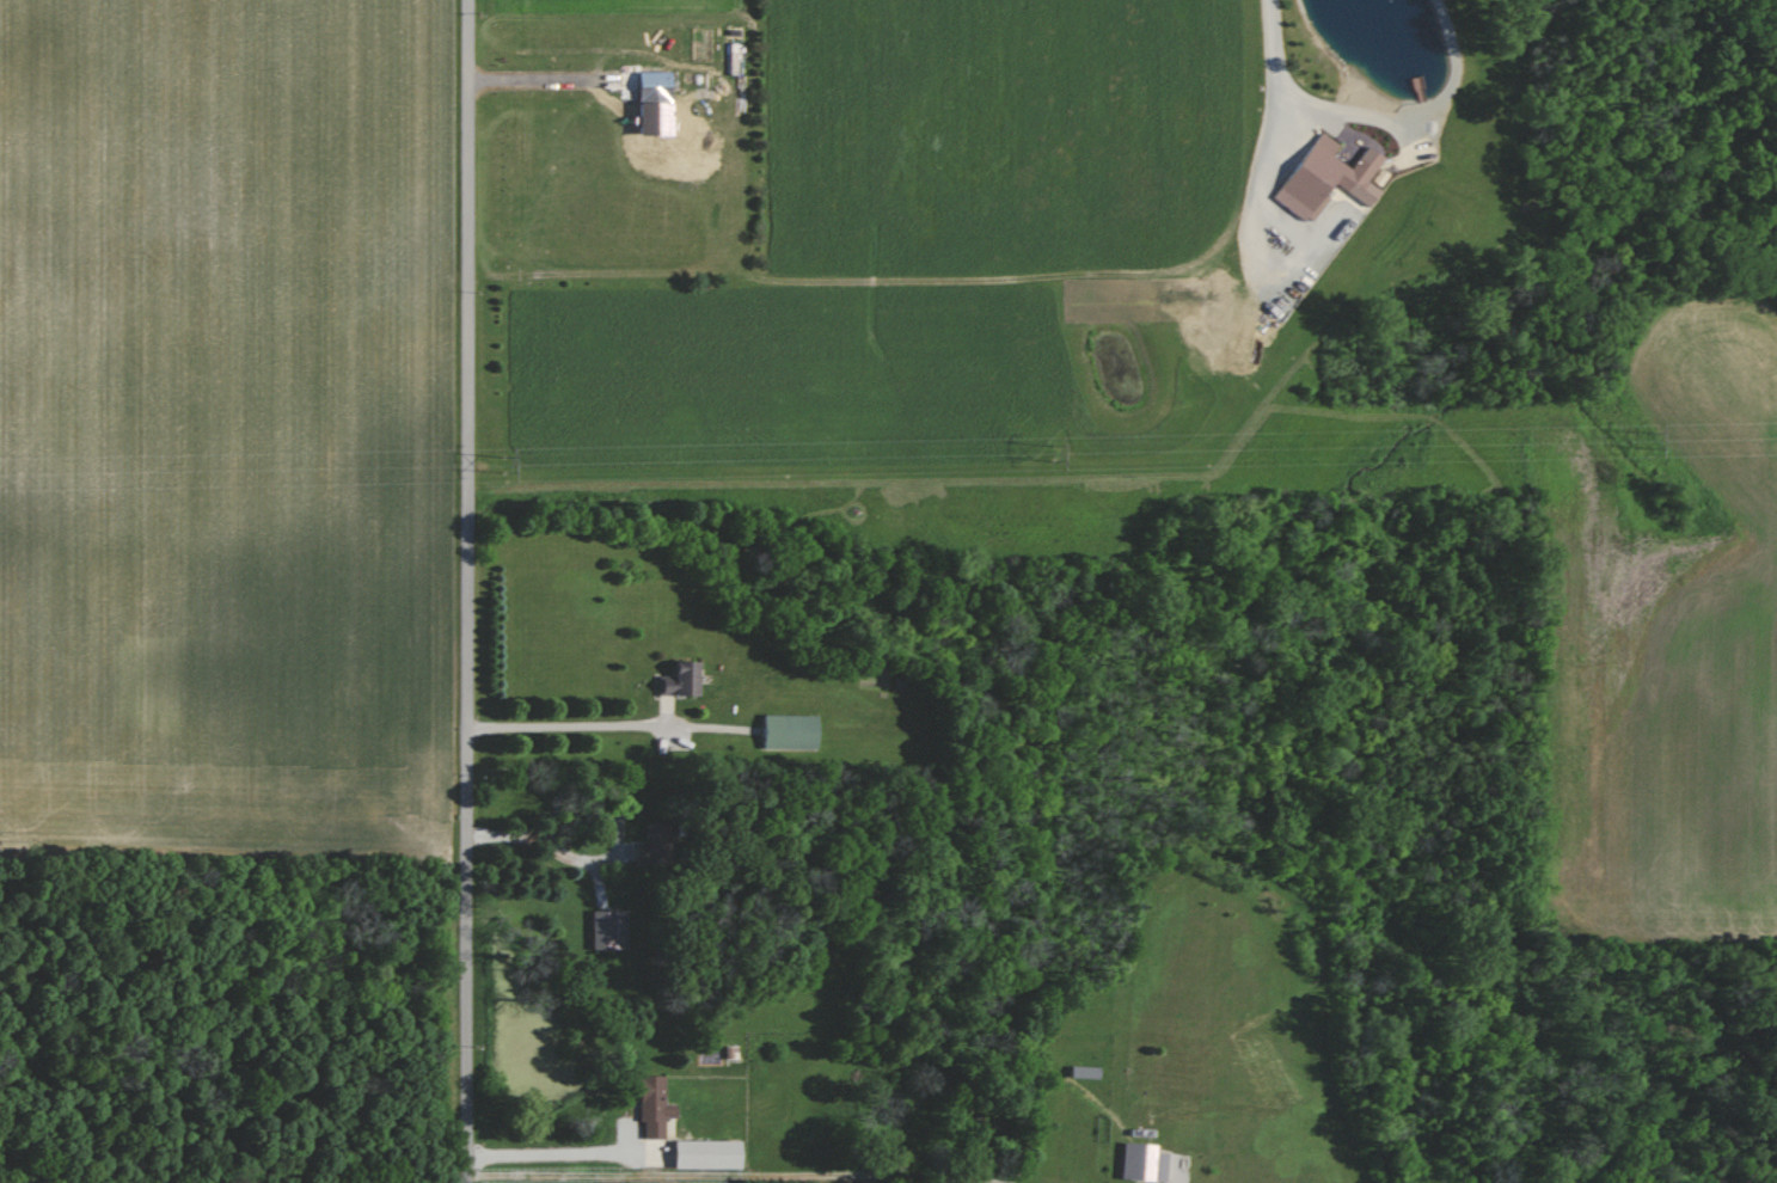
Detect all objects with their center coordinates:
road: (1274, 69)
road: (544, 79)
building: (649, 87)
building: (1321, 179)
power tower: (1653, 439)
power tower: (1050, 452)
power tower: (503, 464)
road: (467, 590)
building: (676, 679)
road: (570, 725)
building: (784, 731)
building: (647, 847)
building: (605, 930)
building: (650, 1107)
building: (700, 1154)
road: (551, 1156)
building: (1133, 1161)

